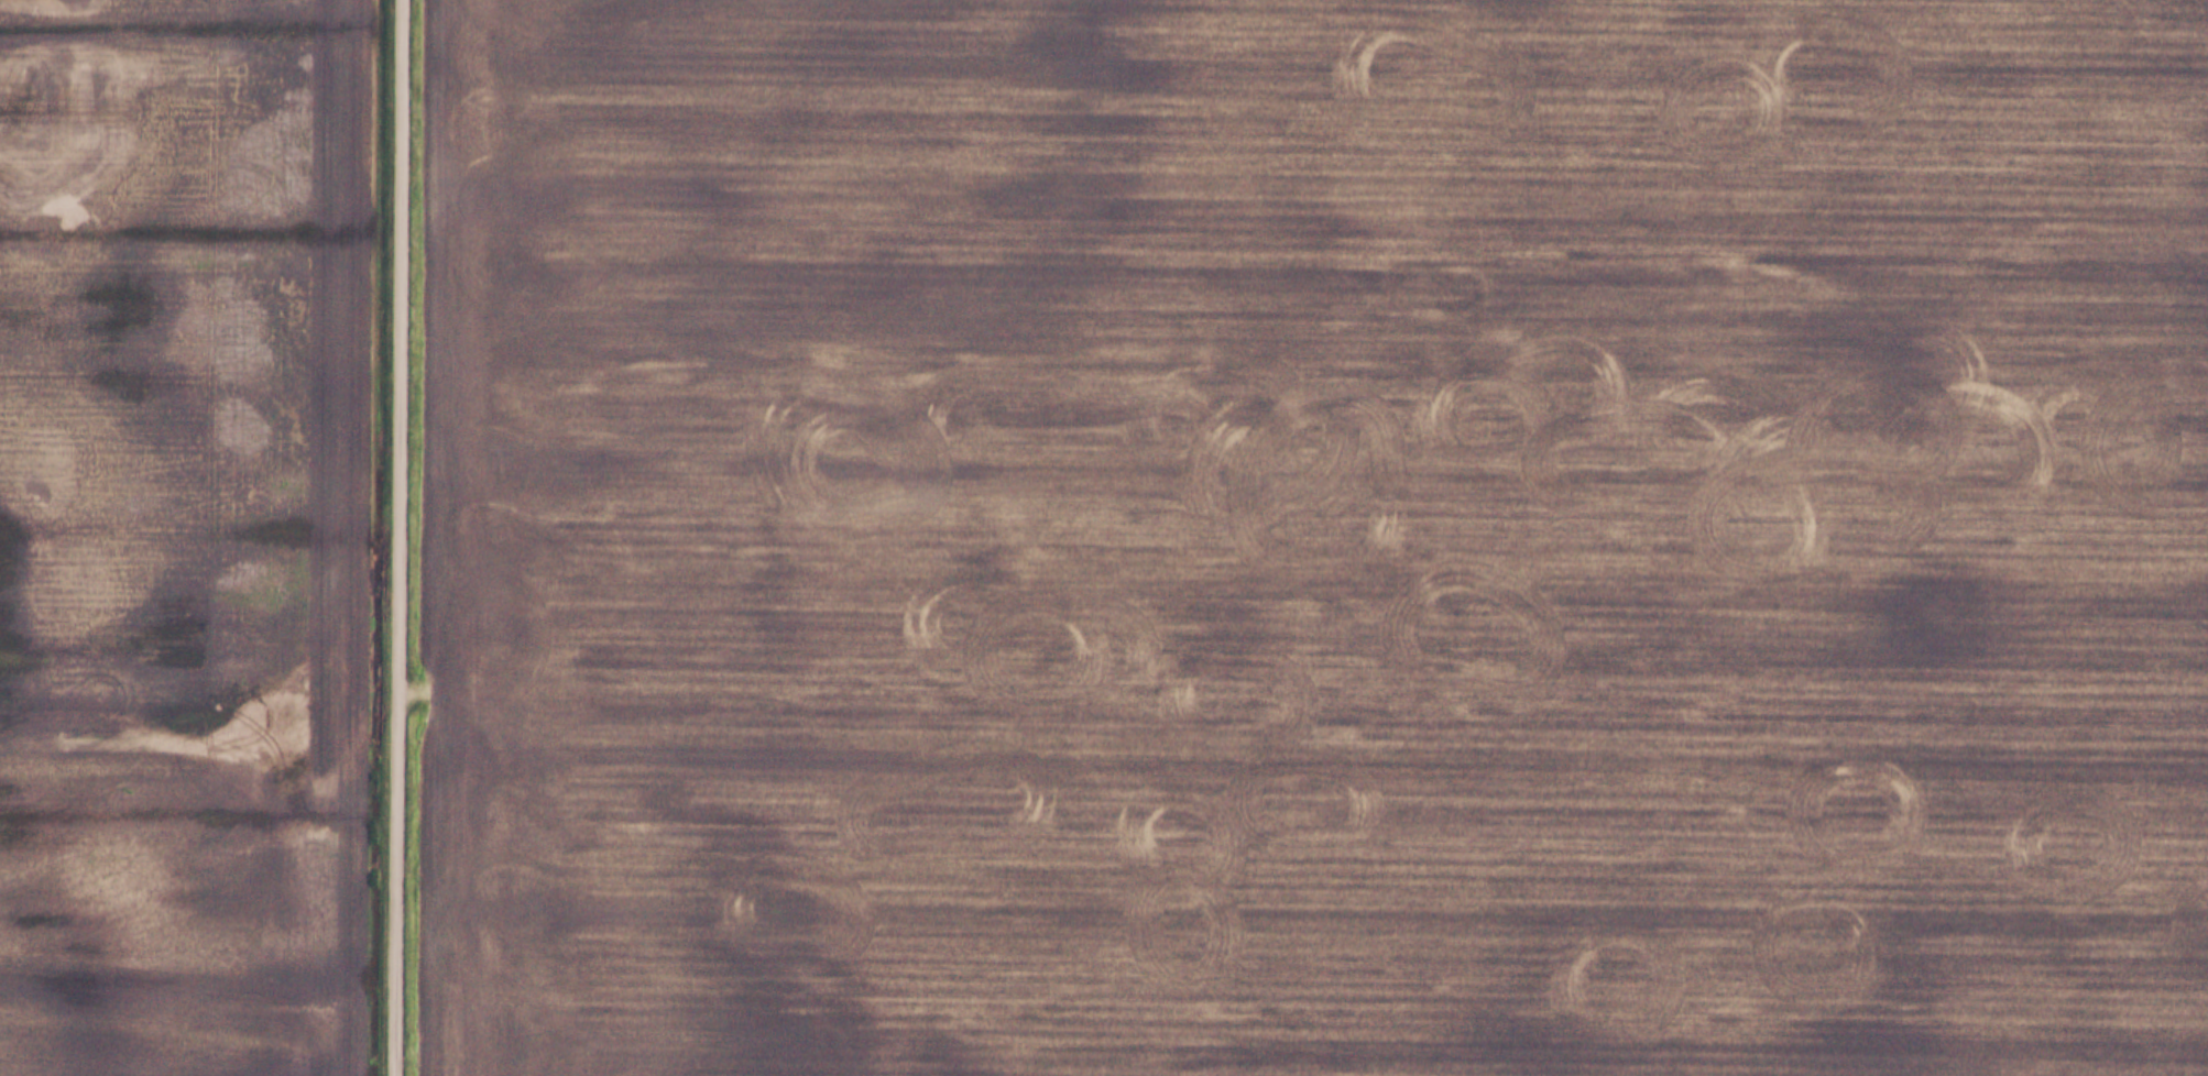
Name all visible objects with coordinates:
road: (397, 538)

